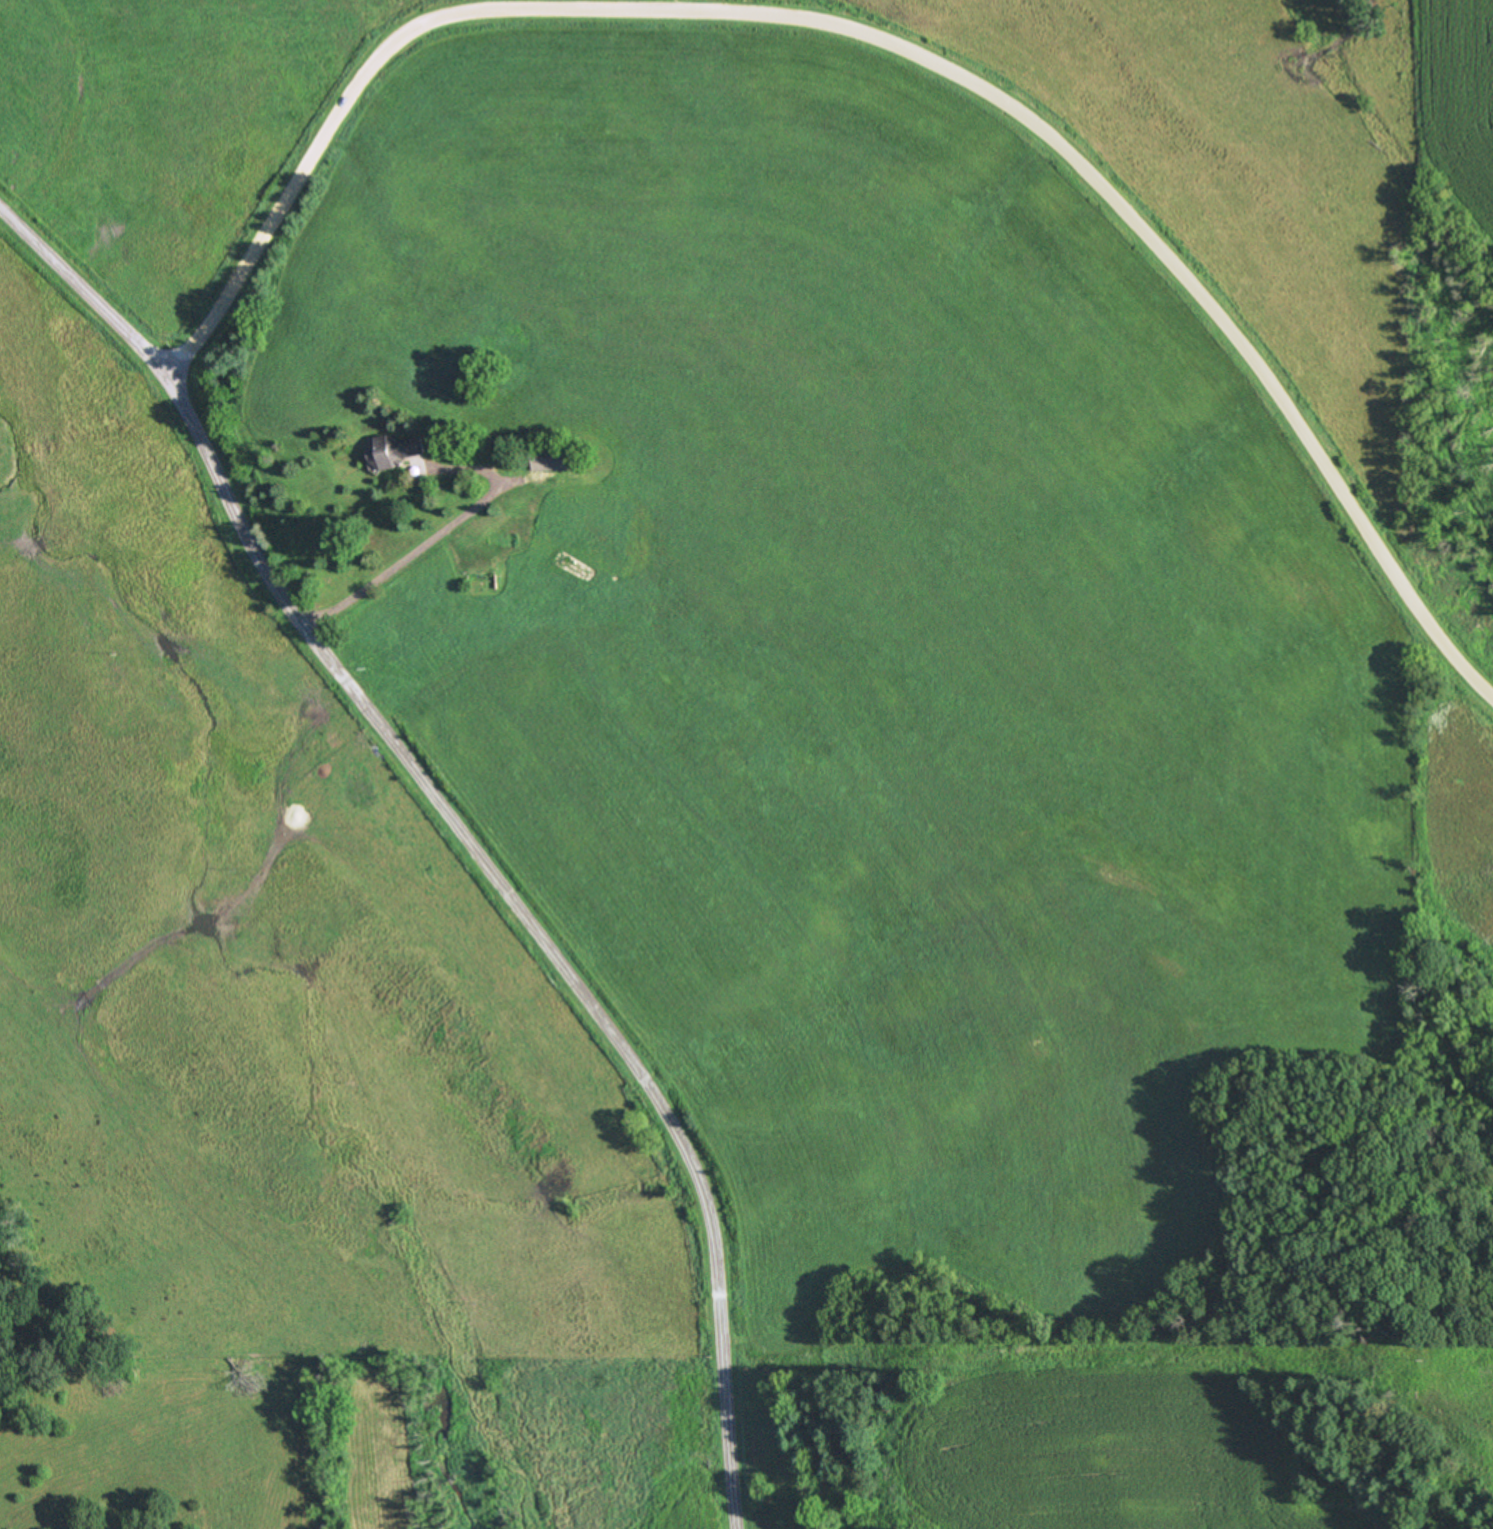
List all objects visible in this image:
road: (884, 43)
building: (399, 450)
building: (539, 459)
road: (419, 547)
road: (457, 830)

